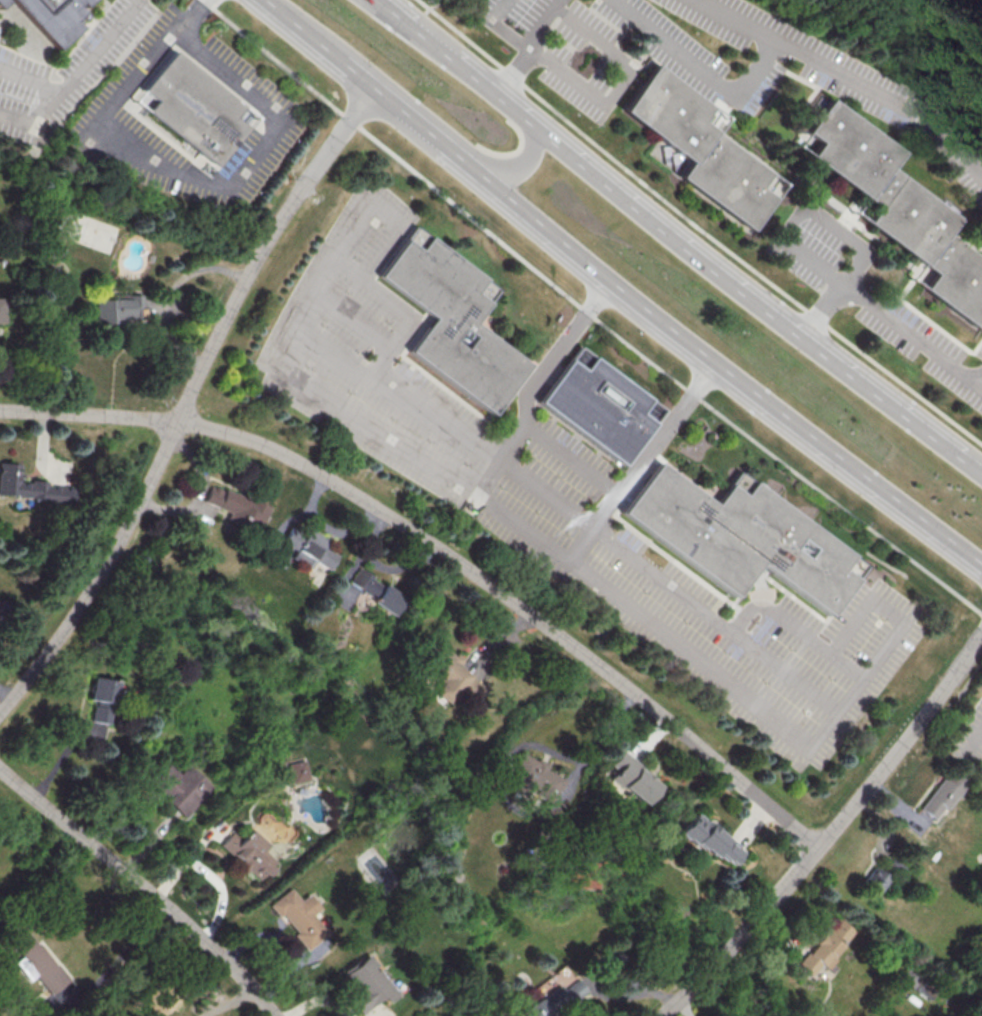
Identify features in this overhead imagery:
building: (1, 1)
road: (561, 4)
building: (51, 17)
road: (191, 17)
road: (304, 32)
road: (527, 43)
road: (704, 66)
parking lot: (62, 73)
road: (856, 77)
road: (75, 78)
road: (32, 81)
road: (605, 103)
road: (394, 104)
building: (192, 107)
parking lot: (278, 107)
building: (701, 147)
road: (464, 157)
road: (521, 164)
road: (207, 182)
building: (899, 207)
road: (699, 221)
road: (678, 237)
road: (853, 240)
road: (343, 246)
road: (802, 252)
road: (350, 269)
road: (169, 293)
building: (115, 308)
building: (1, 309)
road: (825, 310)
road: (587, 312)
building: (452, 320)
road: (353, 322)
road: (674, 322)
flagpole: (552, 332)
road: (913, 336)
flagpole: (547, 339)
flagpole: (542, 344)
road: (980, 383)
road: (186, 398)
building: (599, 405)
road: (524, 434)
road: (484, 449)
road: (574, 460)
road: (642, 461)
building: (31, 488)
building: (237, 508)
road: (925, 518)
building: (739, 536)
building: (307, 547)
road: (443, 551)
building: (375, 590)
road: (888, 647)
road: (847, 666)
road: (784, 671)
building: (450, 677)
road: (941, 687)
building: (102, 689)
building: (99, 714)
road: (971, 747)
building: (296, 771)
road: (971, 772)
building: (534, 777)
building: (632, 778)
building: (179, 787)
building: (941, 794)
building: (709, 839)
building: (248, 853)
building: (873, 881)
road: (784, 884)
road: (143, 885)
building: (299, 917)
building: (825, 945)
road: (127, 951)
building: (38, 963)
building: (365, 984)
building: (554, 1000)
road: (321, 1001)
road: (229, 1006)

